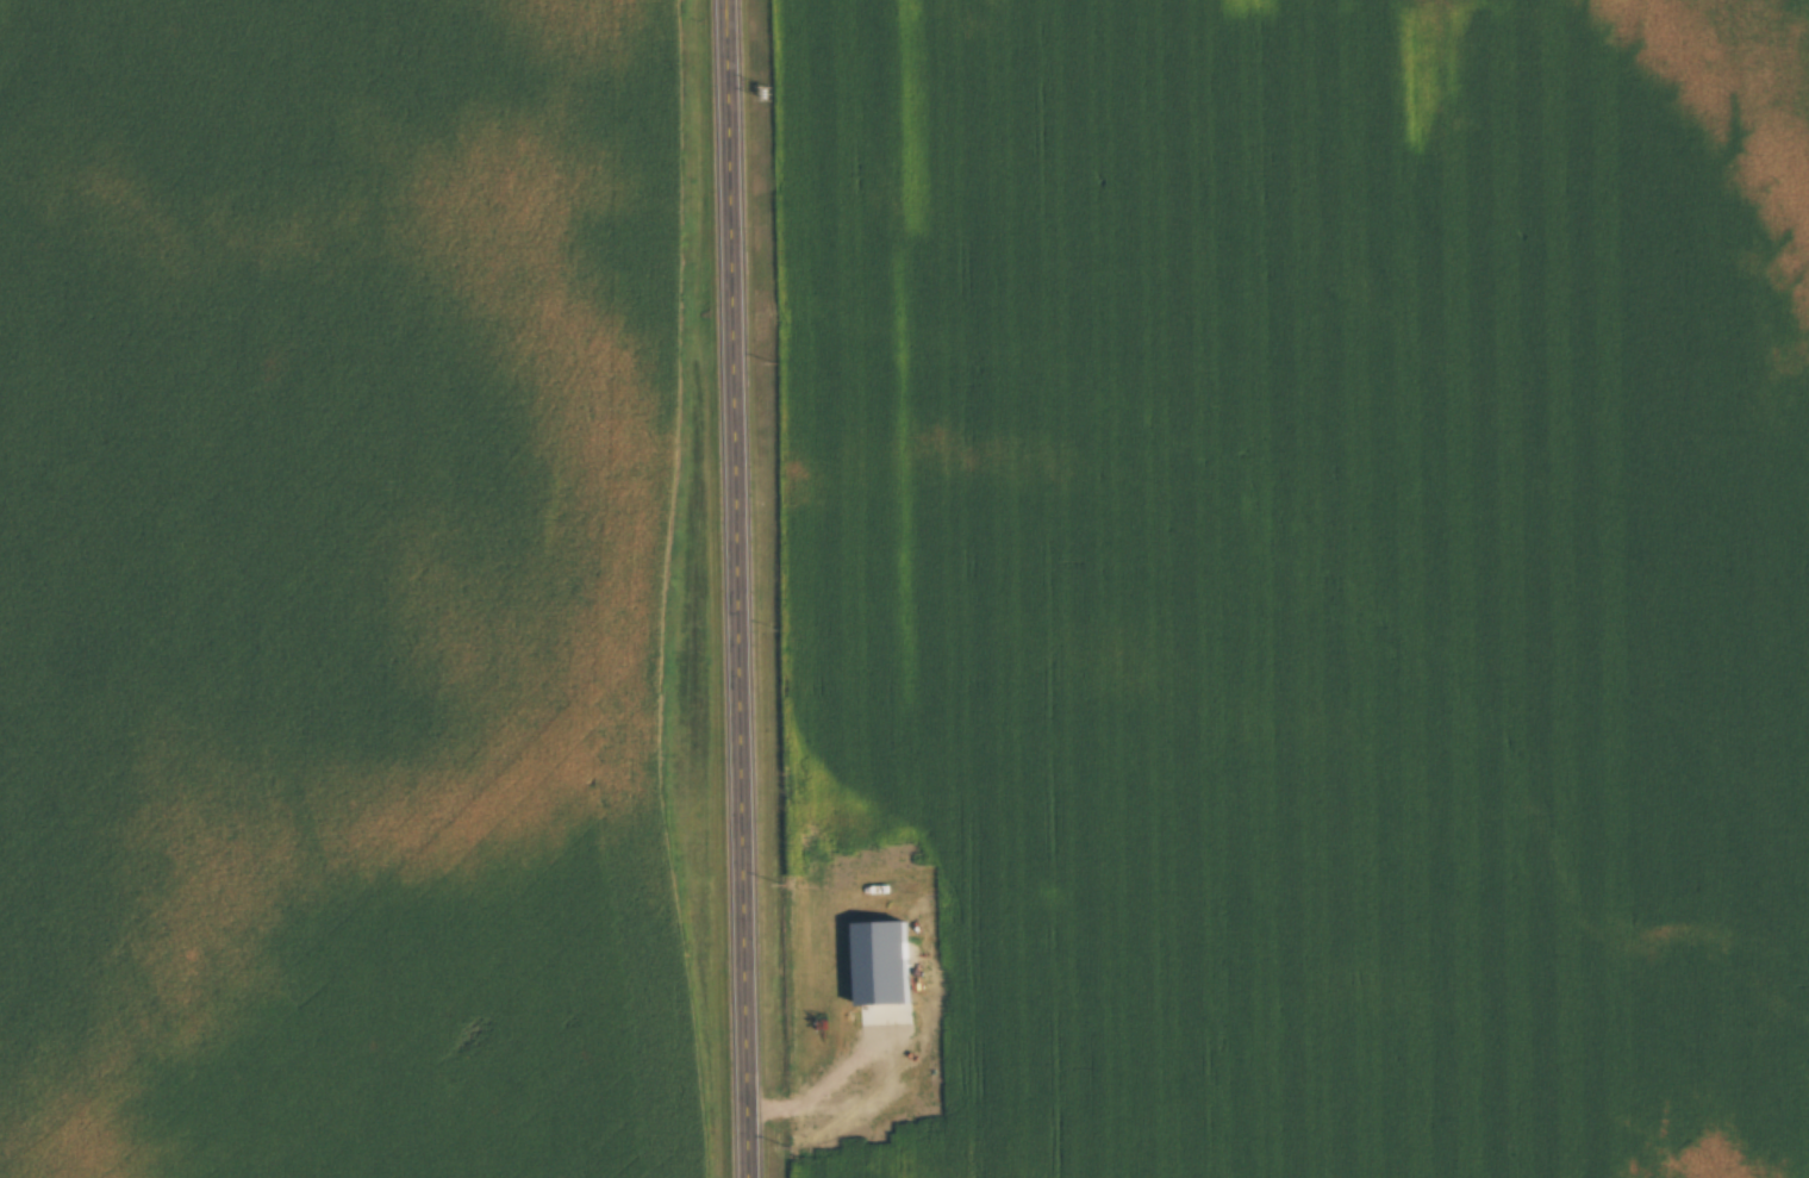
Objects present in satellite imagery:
road: (734, 588)
road: (369, 816)

